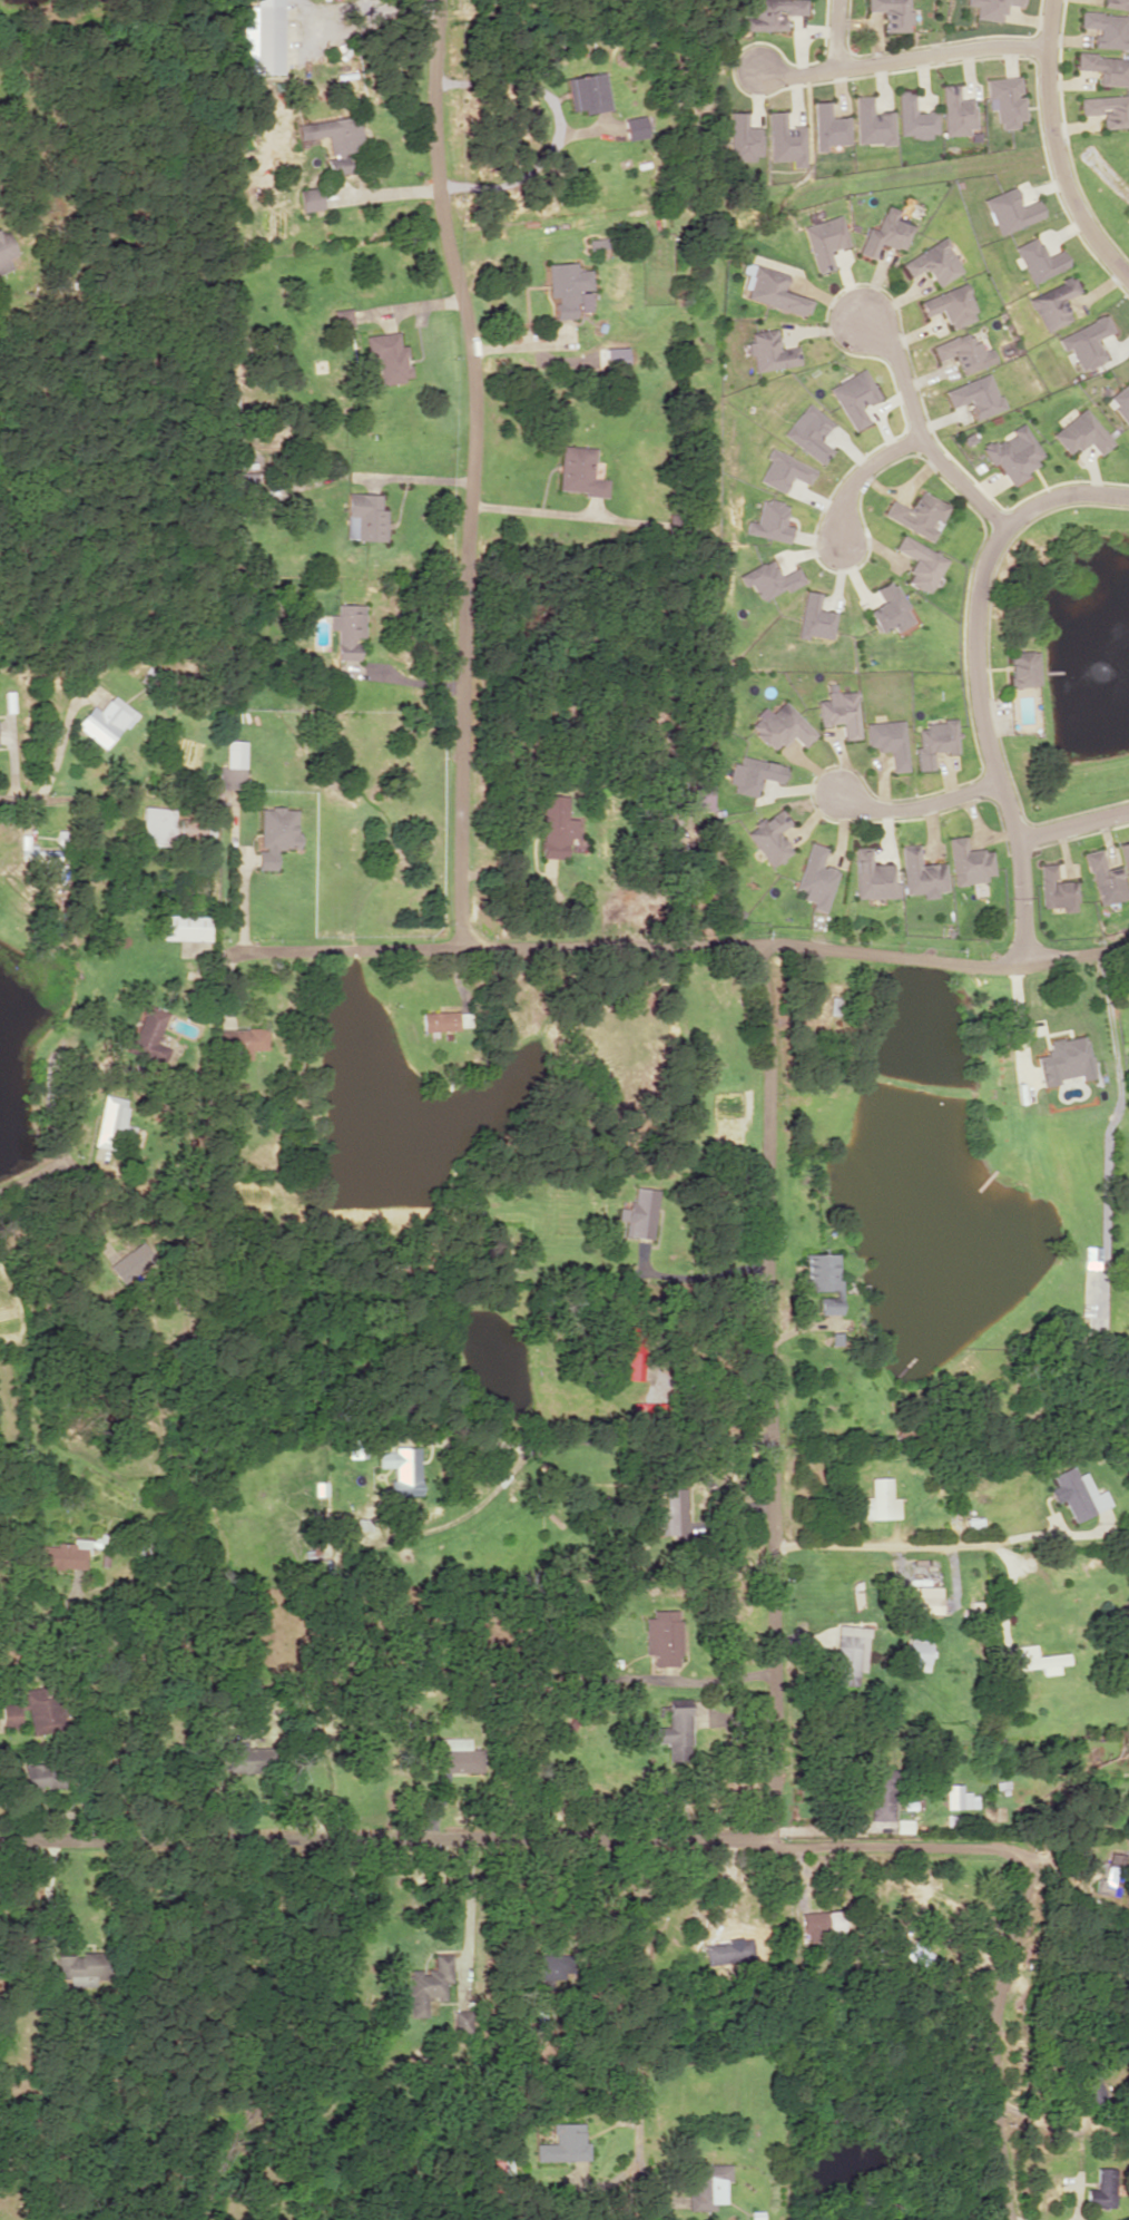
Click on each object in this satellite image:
building: (1116, 3)
building: (991, 8)
building: (772, 13)
building: (892, 13)
building: (1107, 29)
road: (837, 31)
building: (267, 36)
road: (900, 55)
building: (1105, 68)
building: (588, 92)
building: (1005, 100)
building: (1106, 109)
building: (955, 111)
building: (914, 117)
building: (871, 123)
building: (827, 126)
building: (635, 127)
building: (333, 137)
building: (743, 137)
building: (785, 139)
road: (1056, 147)
building: (310, 198)
building: (1010, 211)
building: (884, 233)
building: (823, 241)
building: (597, 243)
building: (4, 251)
building: (1038, 260)
building: (933, 262)
building: (568, 288)
building: (769, 288)
building: (1053, 303)
building: (950, 305)
building: (342, 316)
building: (1086, 342)
building: (769, 351)
building: (964, 352)
building: (387, 355)
building: (610, 358)
building: (975, 395)
building: (854, 397)
building: (1120, 400)
building: (809, 432)
road: (920, 432)
building: (1081, 433)
building: (1012, 453)
road: (470, 470)
building: (579, 471)
building: (785, 476)
road: (856, 480)
building: (243, 482)
building: (917, 514)
building: (363, 517)
building: (770, 521)
building: (920, 563)
building: (769, 579)
building: (889, 608)
building: (815, 617)
building: (346, 629)
building: (1022, 668)
road: (979, 677)
building: (840, 711)
building: (105, 720)
building: (782, 726)
building: (887, 741)
building: (933, 741)
building: (753, 774)
building: (228, 776)
road: (22, 801)
road: (919, 811)
building: (554, 824)
building: (156, 825)
road: (1072, 825)
building: (274, 833)
building: (769, 837)
building: (41, 855)
building: (1125, 858)
building: (968, 861)
building: (919, 873)
building: (871, 877)
building: (814, 878)
building: (1103, 879)
building: (1054, 889)
building: (184, 927)
road: (683, 945)
building: (440, 1020)
building: (147, 1034)
building: (242, 1039)
building: (1063, 1059)
building: (110, 1121)
road: (30, 1174)
building: (639, 1213)
building: (822, 1279)
building: (645, 1411)
building: (400, 1469)
building: (1076, 1493)
building: (878, 1499)
building: (671, 1513)
building: (61, 1555)
building: (925, 1604)
building: (661, 1637)
building: (915, 1652)
building: (848, 1653)
building: (1034, 1657)
building: (41, 1710)
building: (10, 1713)
building: (674, 1732)
building: (455, 1756)
building: (247, 1759)
building: (42, 1774)
road: (767, 1776)
building: (878, 1793)
building: (958, 1797)
building: (1109, 1875)
road: (1017, 1914)
building: (727, 1952)
building: (916, 1953)
building: (540, 1967)
building: (78, 1968)
building: (426, 1984)
road: (644, 1987)
building: (1091, 2092)
building: (562, 2143)
building: (708, 2185)
building: (1099, 2189)

